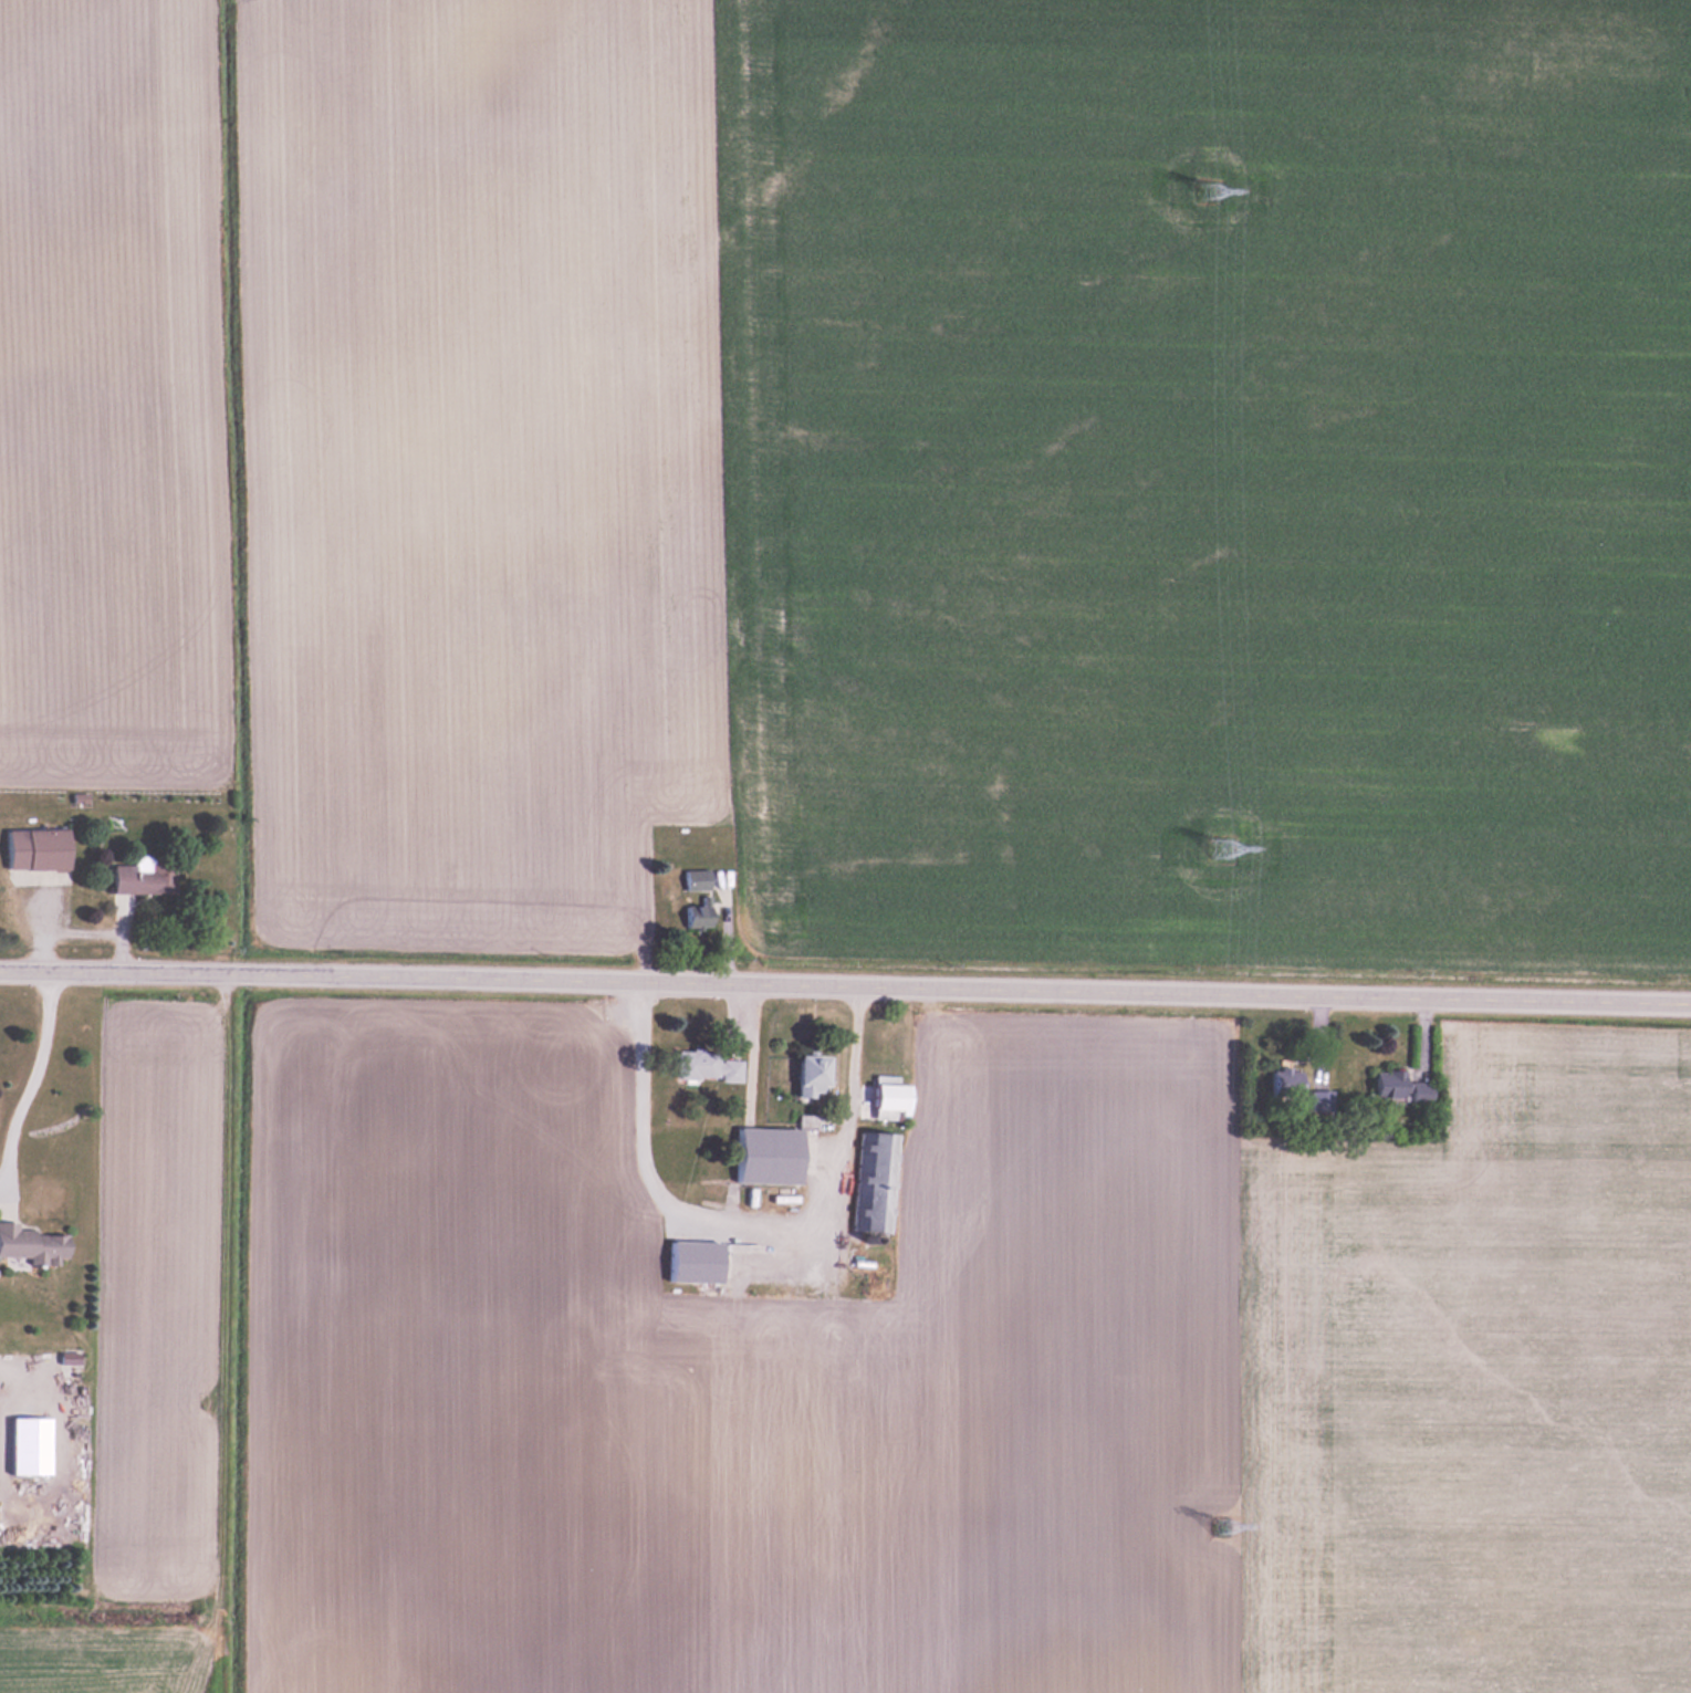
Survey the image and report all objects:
power tower: (1205, 189)
power tower: (1219, 846)
building: (31, 849)
building: (692, 879)
building: (138, 880)
building: (695, 912)
road: (845, 984)
building: (702, 1066)
building: (807, 1076)
building: (1284, 1081)
building: (1387, 1084)
building: (1419, 1091)
road: (24, 1093)
building: (764, 1156)
building: (873, 1181)
building: (29, 1244)
building: (690, 1262)
building: (25, 1445)
power tower: (1221, 1532)

